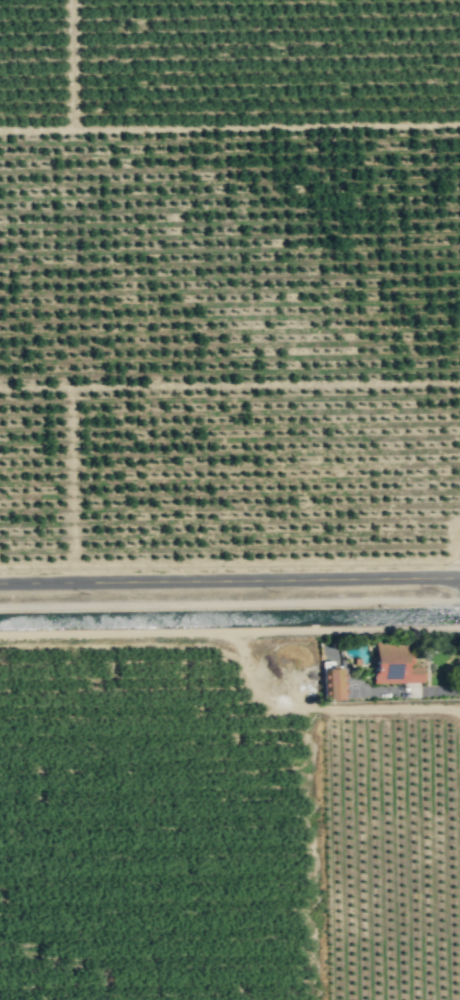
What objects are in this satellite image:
road: (230, 579)
building: (396, 663)
building: (332, 683)

